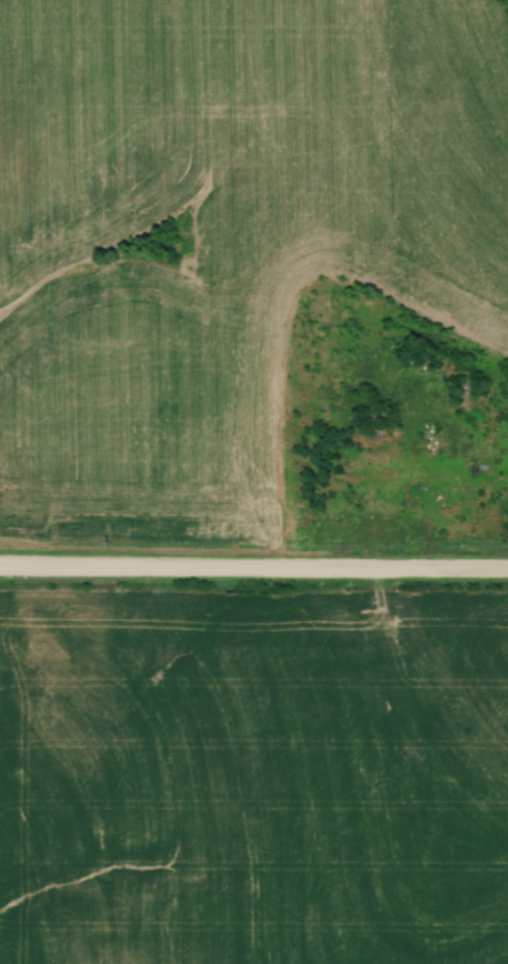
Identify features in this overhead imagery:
road: (254, 566)

